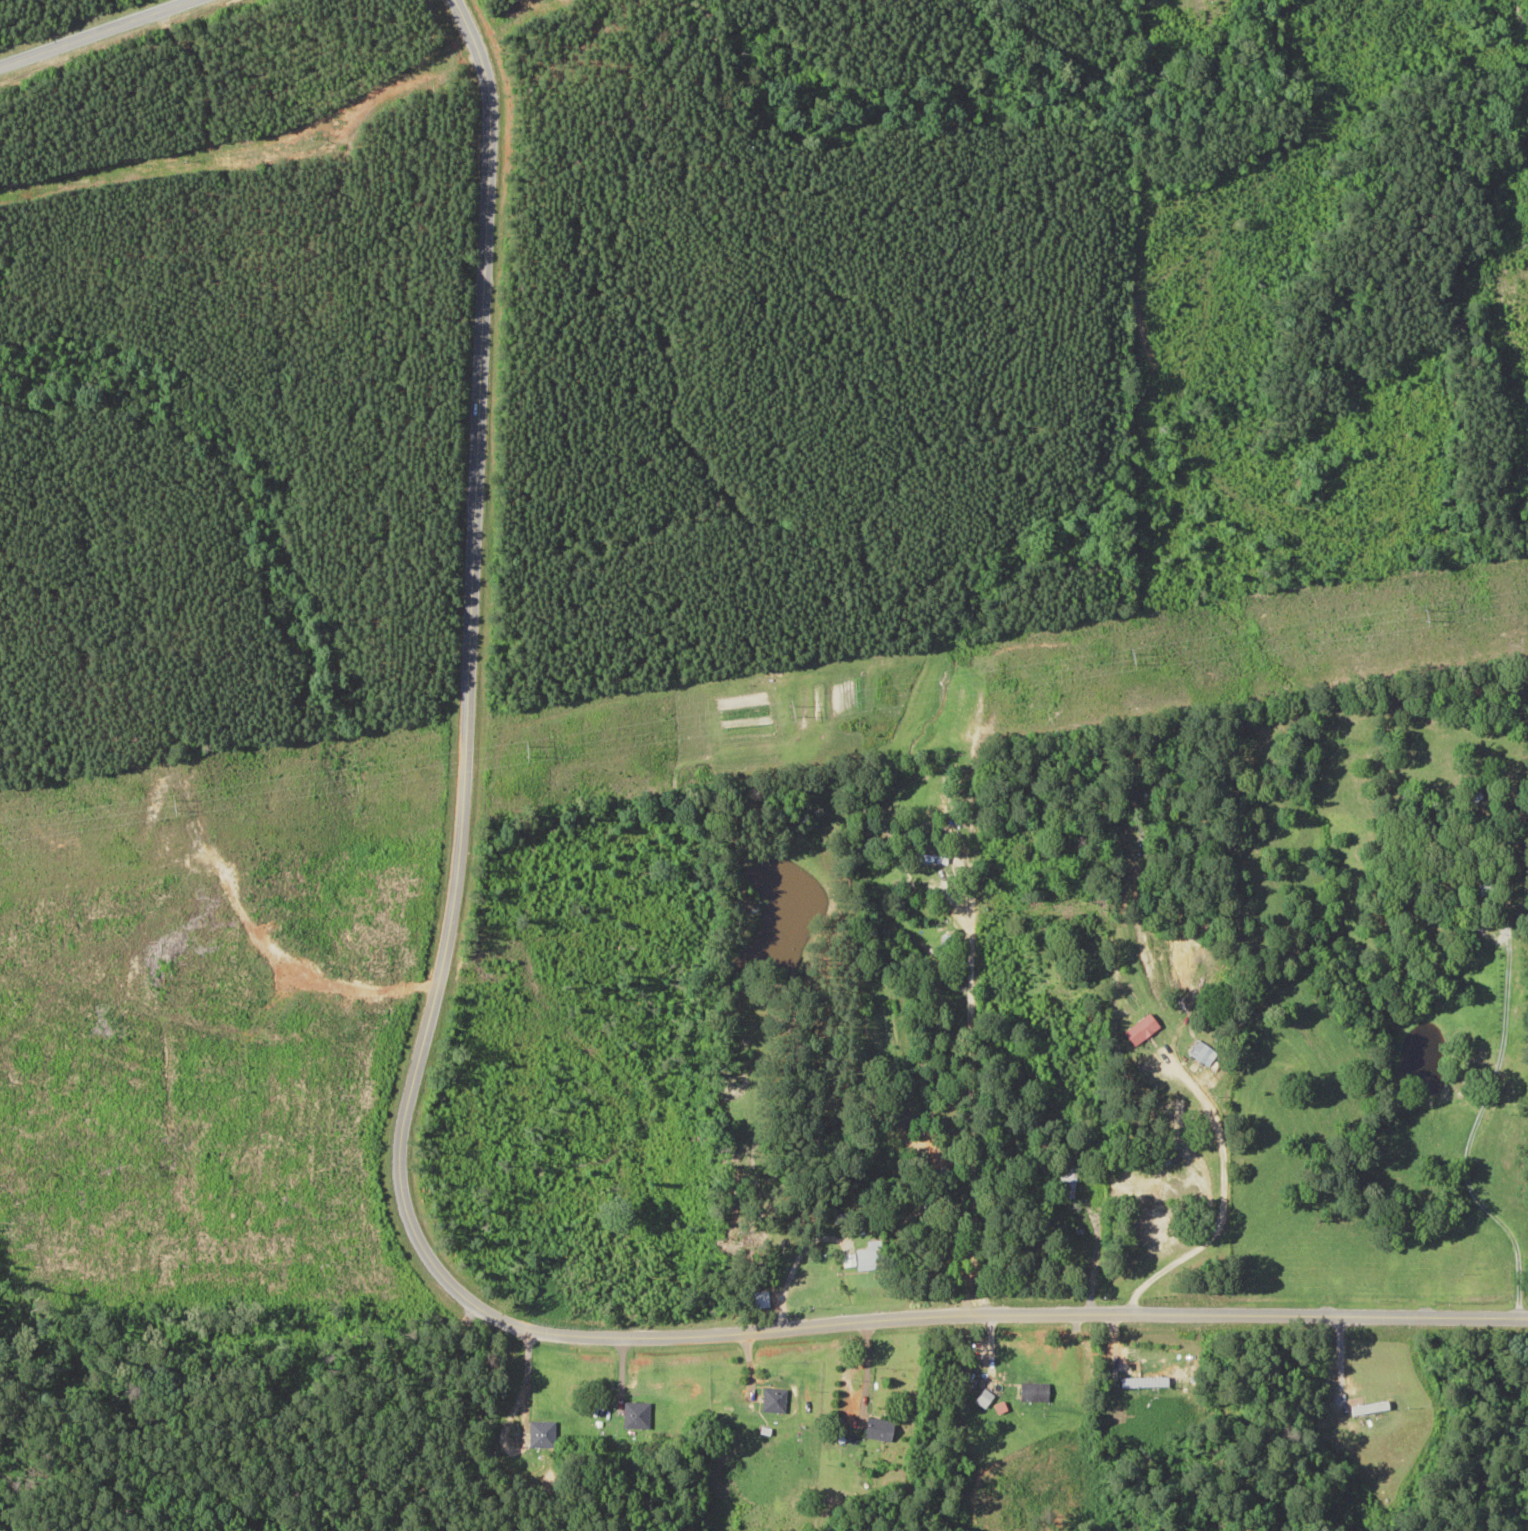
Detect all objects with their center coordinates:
road: (914, 12)
road: (92, 32)
building: (1475, 795)
building: (937, 858)
building: (1486, 886)
building: (1141, 1029)
building: (1199, 1050)
building: (1069, 1179)
road: (396, 1188)
building: (862, 1258)
building: (1028, 1258)
building: (759, 1298)
building: (1144, 1380)
building: (1033, 1391)
building: (983, 1397)
building: (774, 1399)
building: (1367, 1407)
building: (637, 1413)
building: (879, 1428)
building: (542, 1432)

